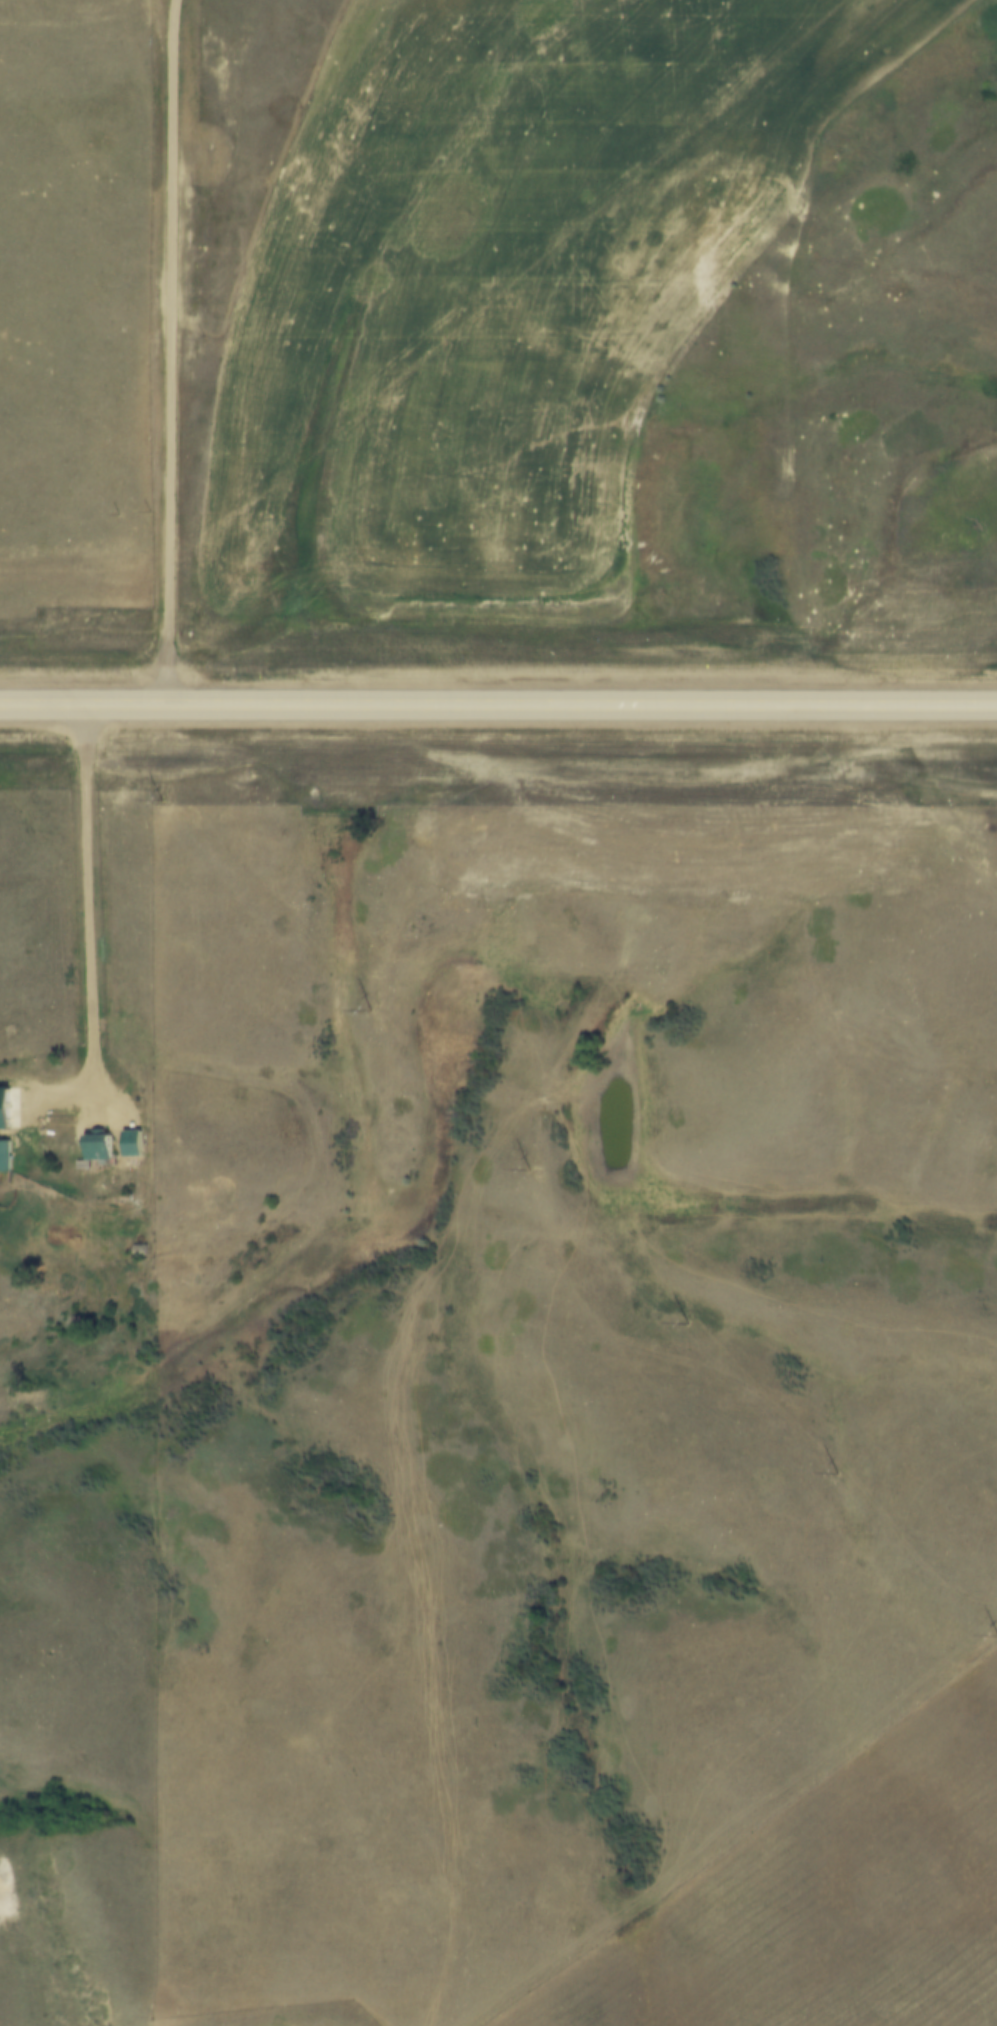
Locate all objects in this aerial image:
road: (171, 353)
road: (498, 706)
road: (88, 909)
building: (136, 1143)
building: (103, 1147)

